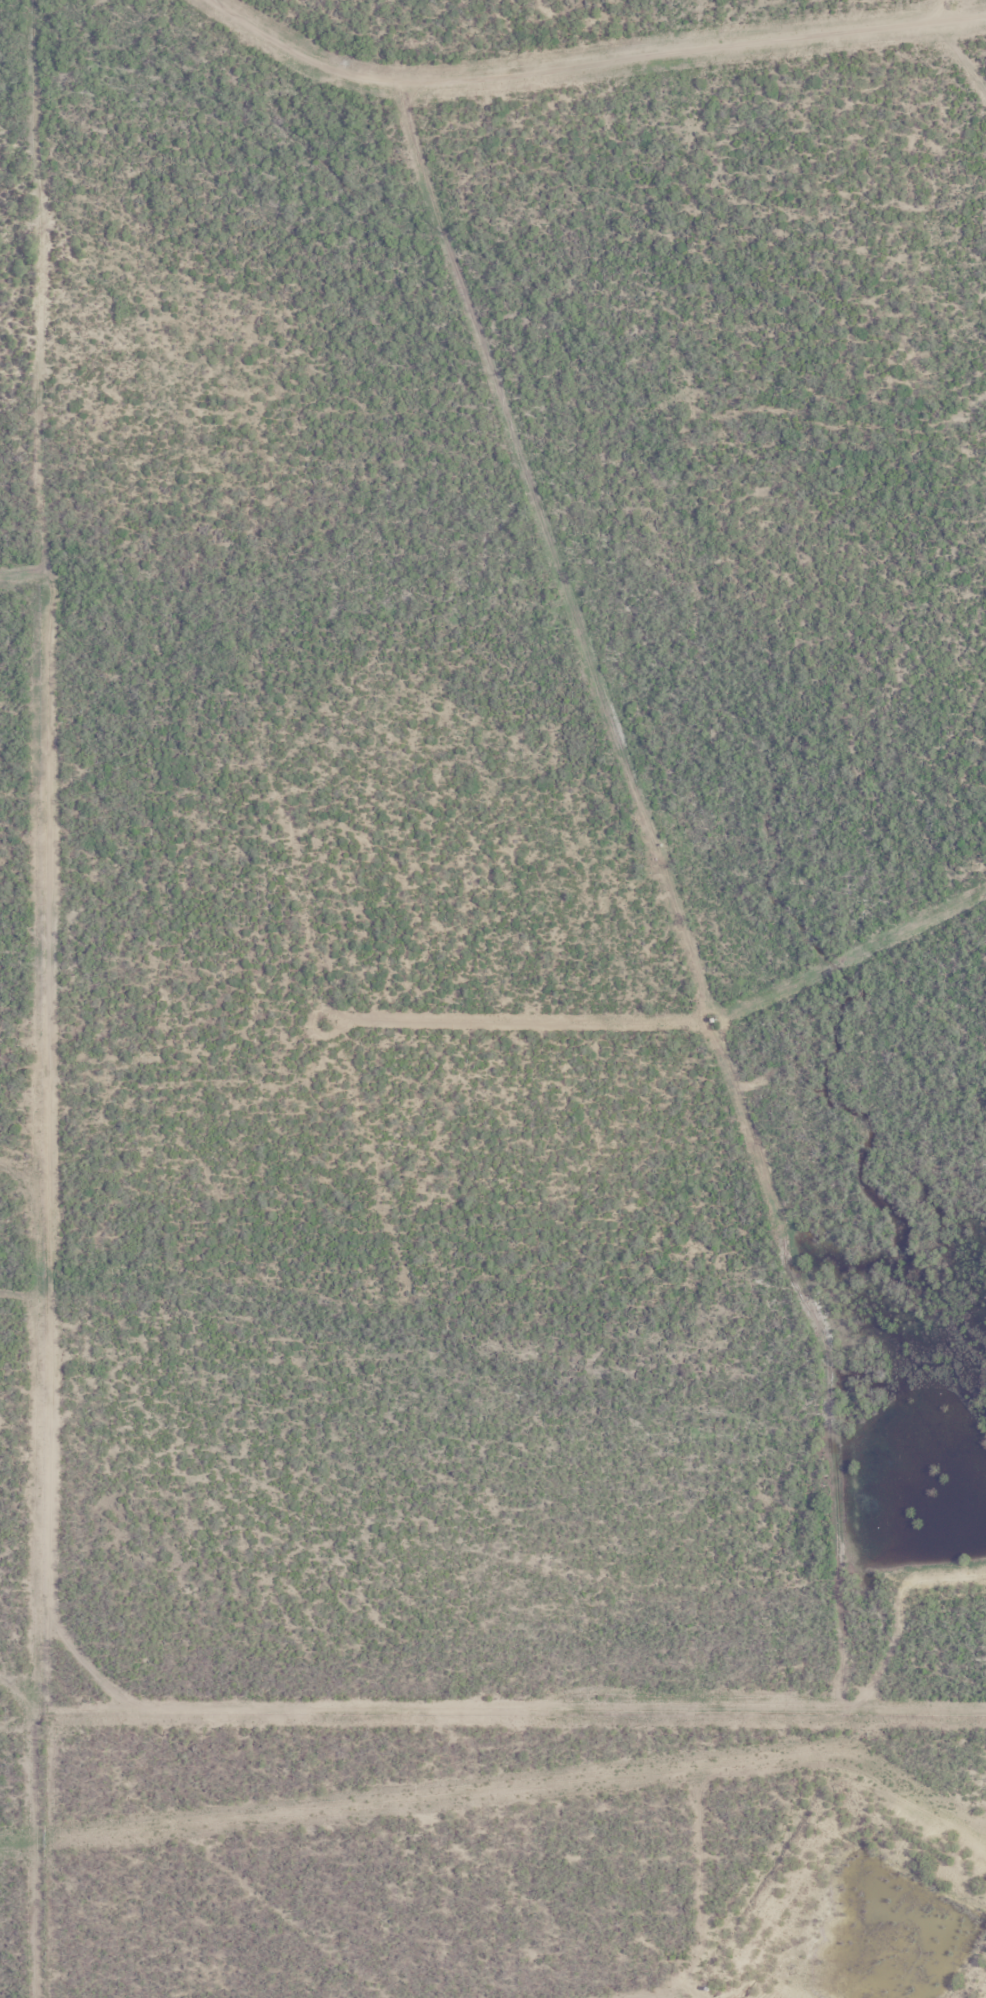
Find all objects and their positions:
road: (593, 64)

